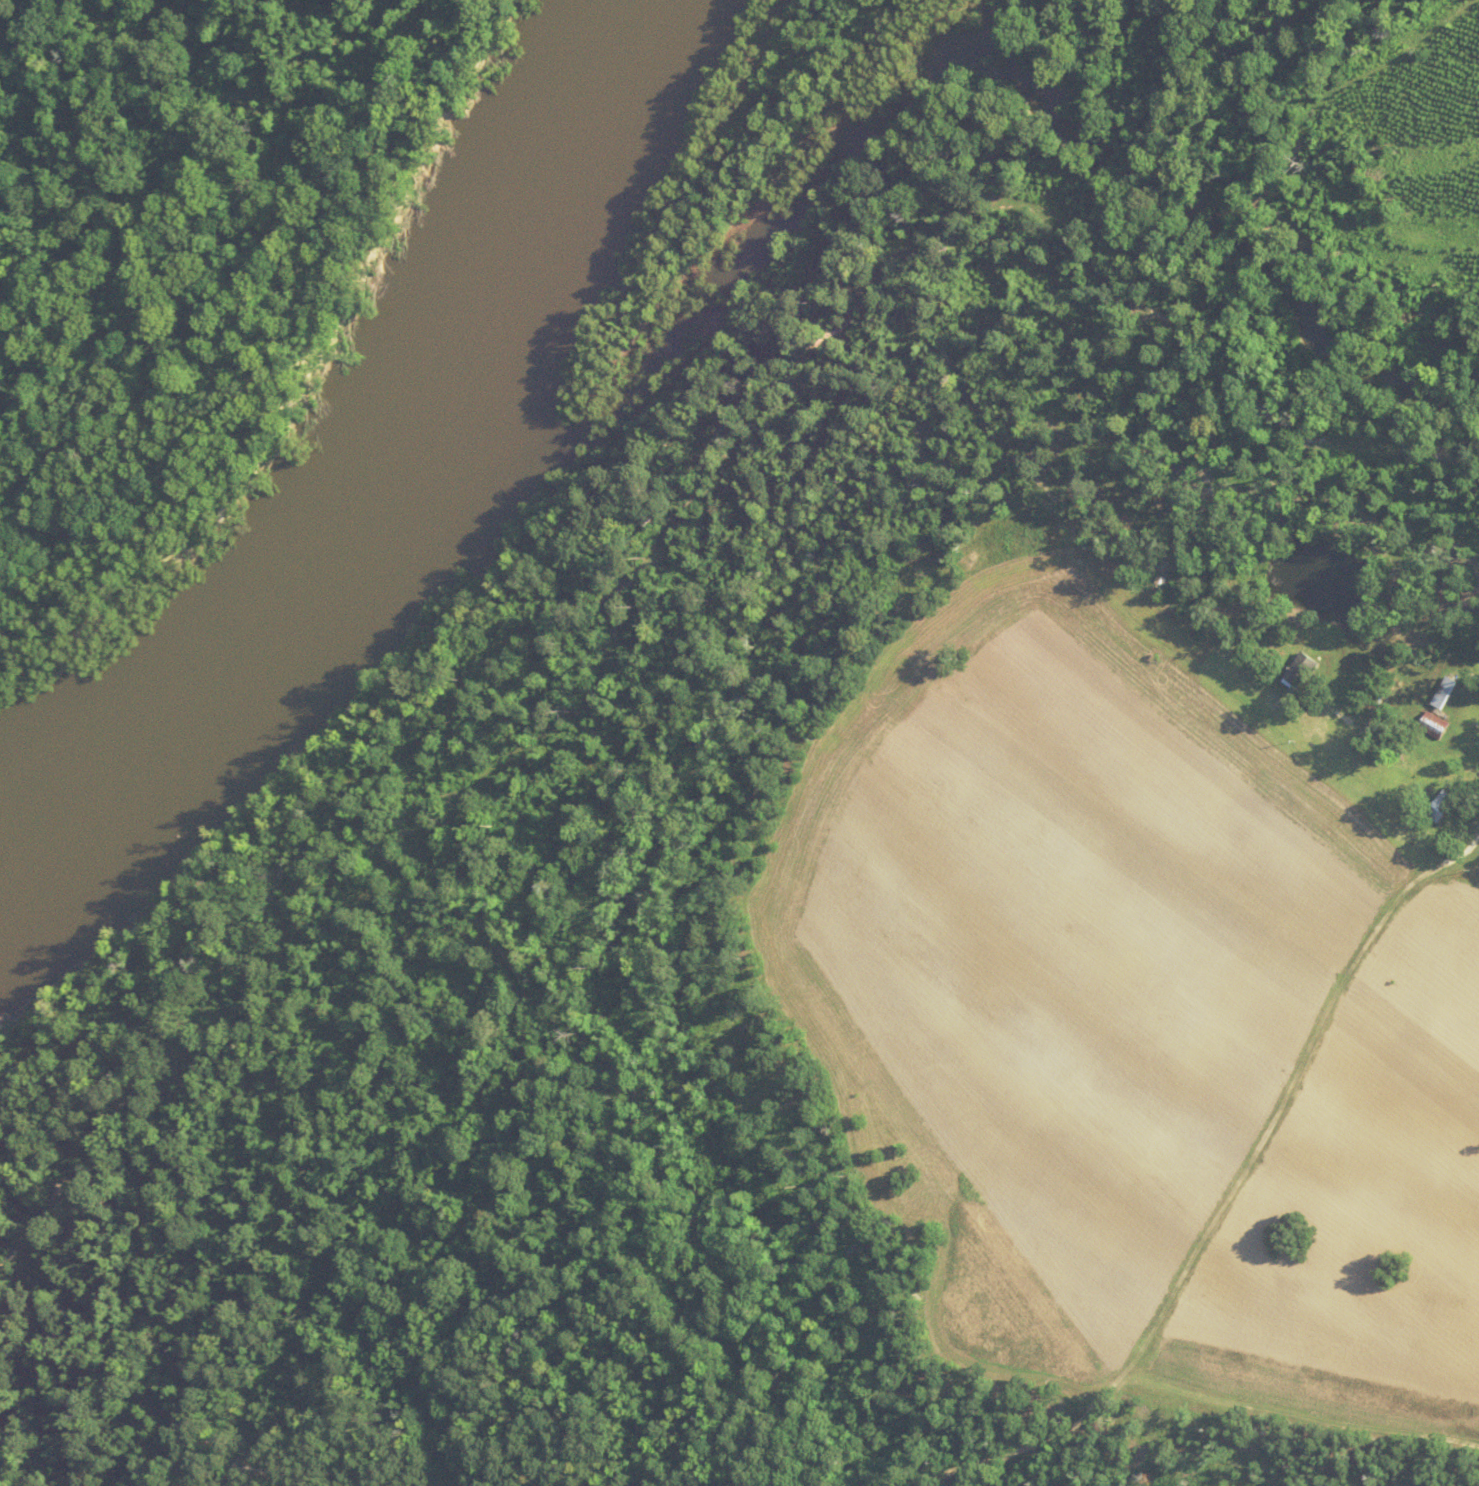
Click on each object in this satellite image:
river: (366, 488)
building: (1297, 672)
building: (1441, 692)
building: (1430, 724)
building: (1437, 805)

